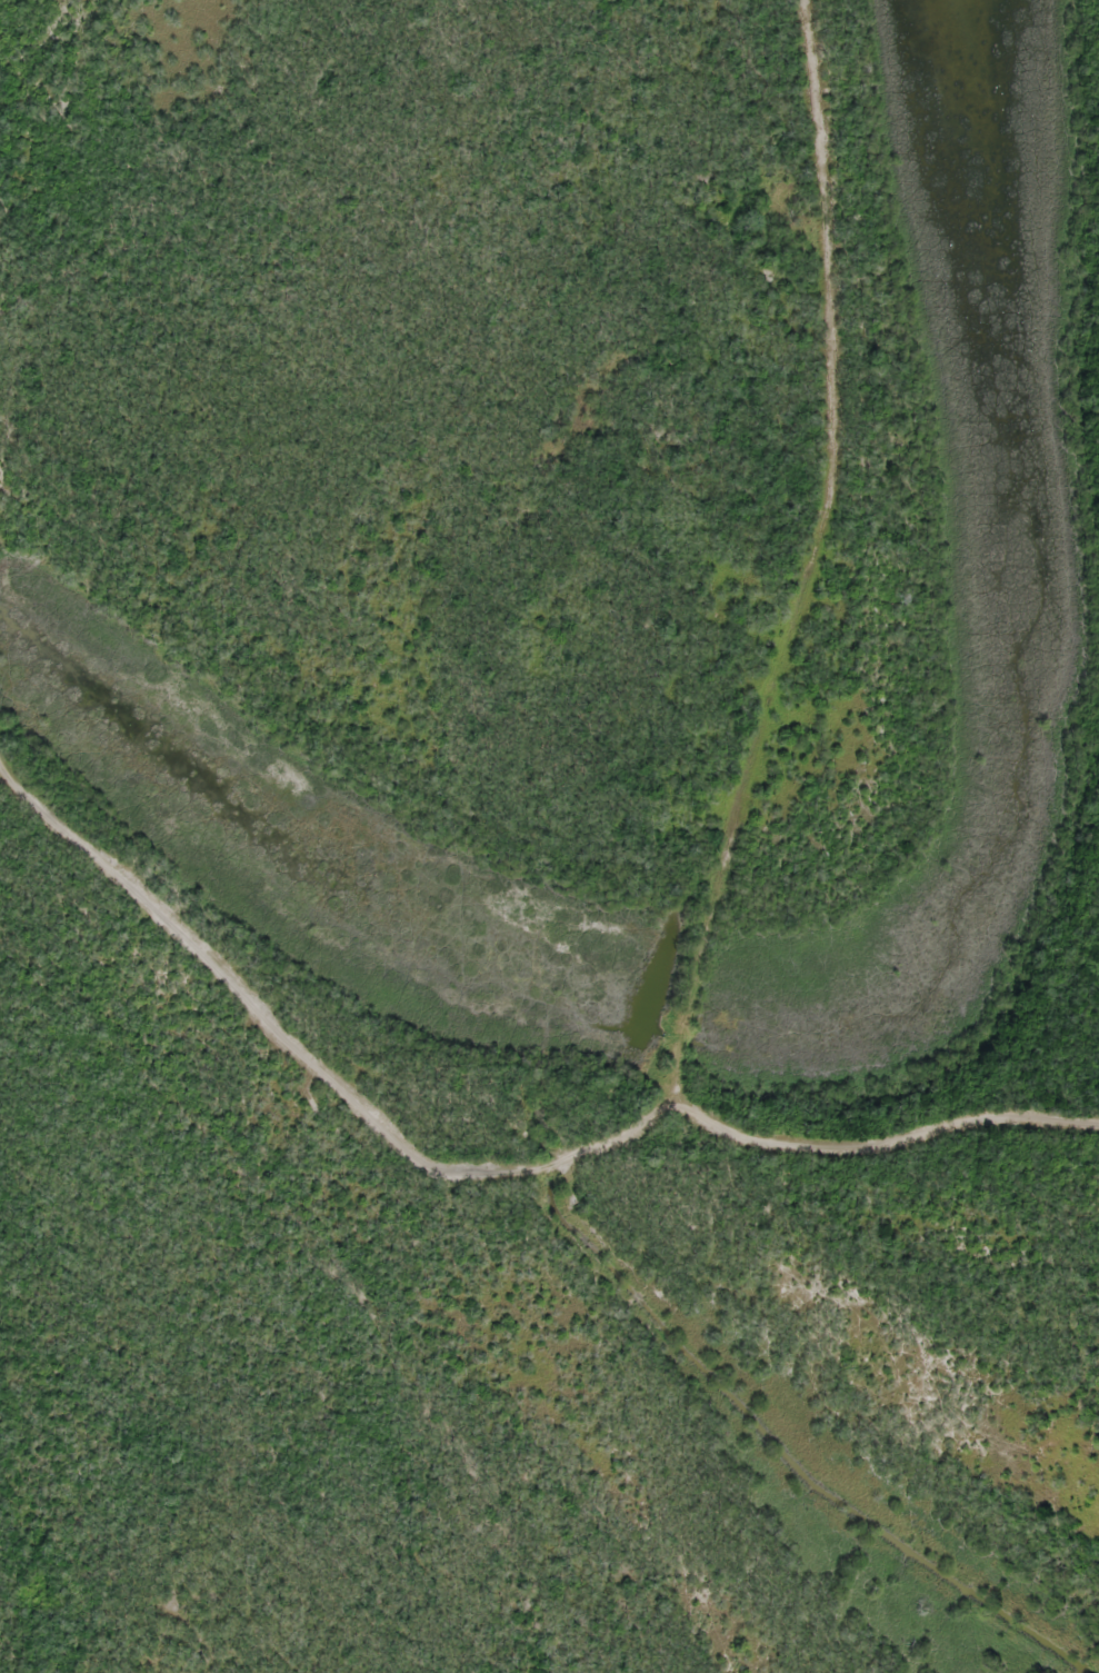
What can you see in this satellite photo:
road: (67, 210)
river: (271, 787)
road: (536, 840)
road: (34, 1032)
road: (348, 1153)

